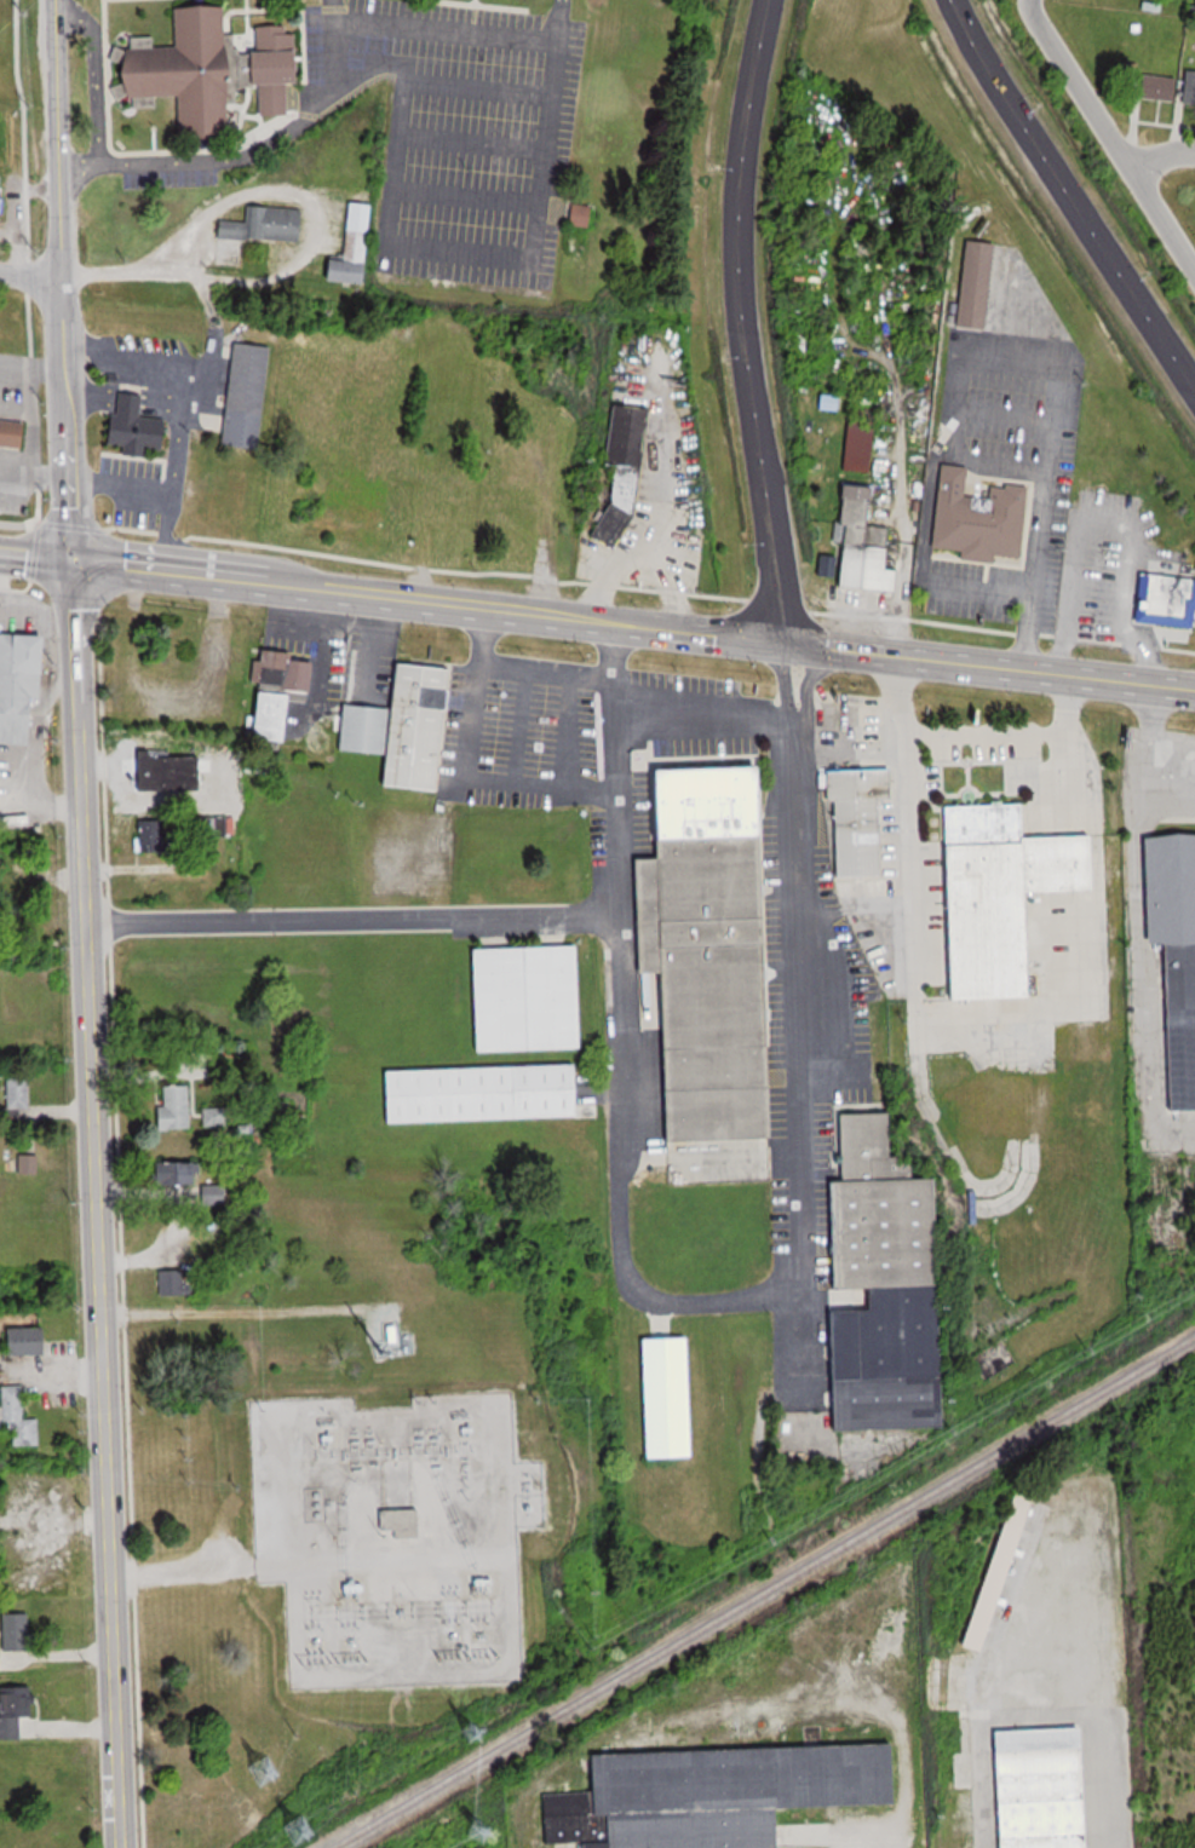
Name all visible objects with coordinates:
road: (552, 23)
building: (211, 67)
building: (1131, 73)
building: (1161, 87)
road: (1111, 133)
road: (1164, 156)
building: (1, 191)
road: (1068, 197)
building: (582, 215)
building: (265, 224)
building: (357, 244)
road: (31, 272)
road: (109, 272)
road: (63, 280)
building: (979, 283)
road: (742, 322)
building: (247, 395)
building: (134, 427)
building: (13, 431)
building: (861, 444)
building: (615, 471)
building: (982, 519)
building: (866, 546)
road: (36, 554)
traffic signals: (73, 559)
road: (277, 586)
building: (1165, 601)
road: (548, 620)
road: (703, 635)
traffic signals: (791, 645)
road: (616, 651)
road: (523, 667)
road: (993, 667)
building: (285, 669)
building: (21, 685)
road: (741, 706)
building: (276, 714)
building: (407, 725)
road: (1012, 736)
road: (881, 745)
building: (168, 770)
road: (482, 784)
building: (860, 818)
building: (205, 825)
building: (154, 836)
building: (1006, 893)
road: (352, 922)
building: (705, 931)
building: (1177, 952)
building: (530, 997)
building: (487, 1092)
building: (19, 1093)
building: (176, 1106)
building: (216, 1116)
building: (29, 1164)
building: (178, 1173)
building: (216, 1193)
road: (98, 1203)
building: (173, 1282)
building: (889, 1284)
road: (699, 1309)
building: (29, 1340)
building: (672, 1395)
building: (18, 1416)
building: (401, 1522)
power substation: (393, 1532)
road: (219, 1545)
building: (1004, 1570)
road: (183, 1571)
railway: (768, 1595)
building: (17, 1636)
building: (15, 1709)
power tower: (475, 1735)
power tower: (264, 1769)
building: (1046, 1787)
building: (685, 1798)
power tower: (297, 1826)
power tower: (484, 1832)

